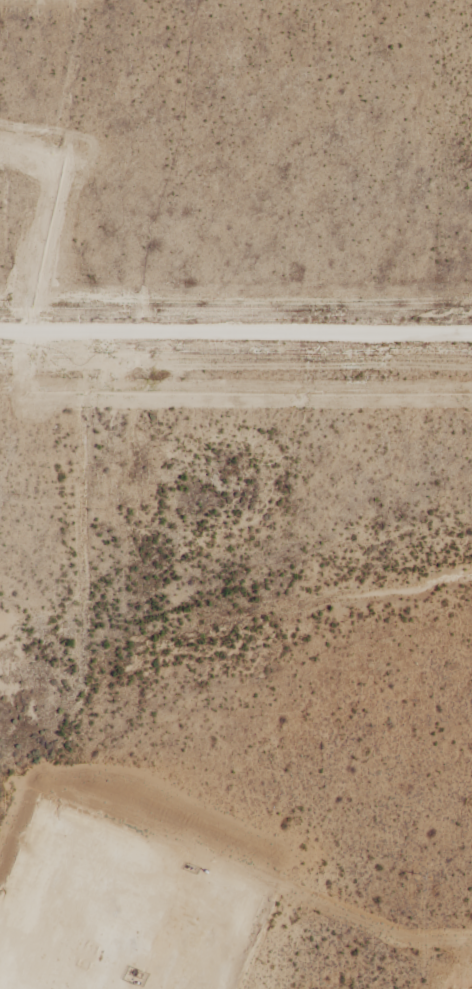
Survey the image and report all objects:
road: (236, 321)
road: (110, 925)
petroleum well: (132, 970)

